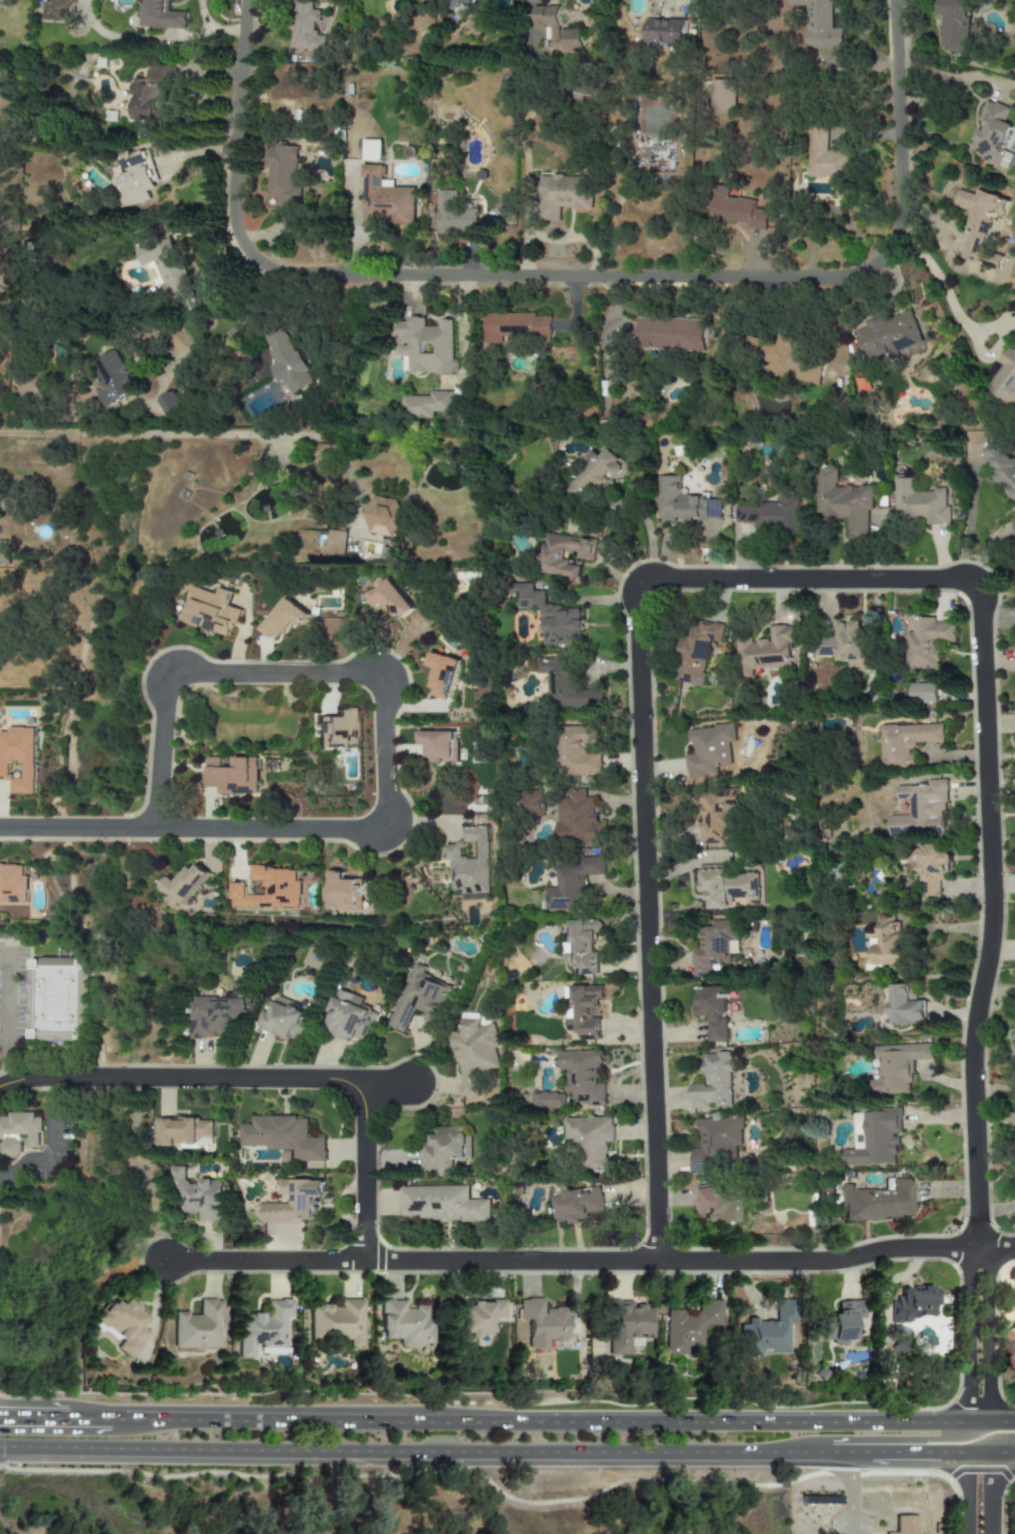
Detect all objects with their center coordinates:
building: (463, 4)
building: (56, 10)
building: (160, 15)
building: (819, 24)
building: (954, 24)
building: (304, 27)
building: (556, 29)
building: (665, 31)
building: (582, 93)
building: (150, 94)
building: (722, 96)
building: (993, 134)
building: (372, 150)
building: (825, 155)
building: (282, 174)
building: (134, 179)
building: (562, 194)
building: (385, 198)
building: (736, 210)
building: (454, 215)
building: (981, 224)
building: (163, 266)
road: (566, 276)
road: (947, 299)
building: (515, 326)
road: (227, 332)
building: (670, 334)
building: (888, 335)
building: (427, 346)
road: (986, 357)
building: (781, 358)
building: (284, 361)
building: (114, 378)
building: (1005, 380)
building: (170, 403)
building: (427, 404)
road: (141, 435)
building: (1002, 468)
building: (597, 474)
building: (683, 502)
building: (843, 502)
building: (920, 502)
building: (770, 514)
road: (969, 514)
building: (383, 516)
building: (1014, 521)
road: (648, 534)
building: (336, 541)
building: (4, 552)
building: (565, 554)
building: (389, 598)
building: (211, 610)
building: (550, 616)
building: (284, 618)
building: (926, 641)
building: (844, 643)
building: (698, 650)
building: (766, 651)
road: (193, 673)
building: (442, 674)
building: (565, 684)
building: (922, 692)
building: (334, 728)
building: (906, 742)
building: (439, 745)
building: (577, 751)
building: (709, 751)
road: (638, 754)
building: (18, 759)
building: (233, 776)
building: (477, 803)
building: (533, 803)
building: (921, 810)
building: (716, 816)
building: (578, 818)
road: (76, 829)
road: (340, 831)
building: (469, 864)
building: (932, 870)
building: (572, 882)
building: (12, 884)
building: (185, 884)
building: (725, 886)
building: (268, 889)
building: (345, 891)
road: (989, 922)
building: (888, 942)
building: (582, 946)
building: (714, 946)
road: (3, 978)
building: (420, 998)
building: (904, 1007)
building: (712, 1009)
building: (219, 1012)
building: (585, 1012)
building: (349, 1017)
building: (283, 1019)
road: (2, 1043)
road: (5, 1044)
building: (1012, 1049)
building: (474, 1054)
building: (896, 1066)
building: (583, 1076)
road: (266, 1077)
building: (713, 1082)
road: (384, 1088)
building: (547, 1100)
building: (181, 1131)
building: (19, 1134)
building: (283, 1138)
building: (873, 1139)
building: (591, 1140)
building: (716, 1143)
road: (50, 1146)
building: (447, 1147)
building: (197, 1196)
building: (879, 1201)
building: (293, 1202)
building: (442, 1204)
building: (578, 1204)
building: (716, 1204)
road: (590, 1261)
road: (891, 1282)
building: (912, 1303)
building: (478, 1317)
building: (338, 1321)
building: (541, 1322)
building: (841, 1322)
building: (405, 1323)
building: (123, 1325)
building: (627, 1325)
building: (197, 1326)
building: (691, 1326)
building: (263, 1327)
building: (1013, 1328)
building: (767, 1331)
road: (968, 1333)
road: (987, 1333)
building: (1013, 1344)
building: (1013, 1357)
road: (33, 1414)
road: (90, 1415)
road: (540, 1418)
road: (1001, 1418)
road: (977, 1419)
road: (885, 1439)
road: (985, 1440)
road: (435, 1463)
road: (919, 1463)
road: (977, 1464)
road: (1001, 1464)
road: (979, 1471)
road: (1006, 1488)
road: (500, 1493)
road: (847, 1498)
road: (968, 1499)
road: (987, 1499)
building: (905, 1525)

